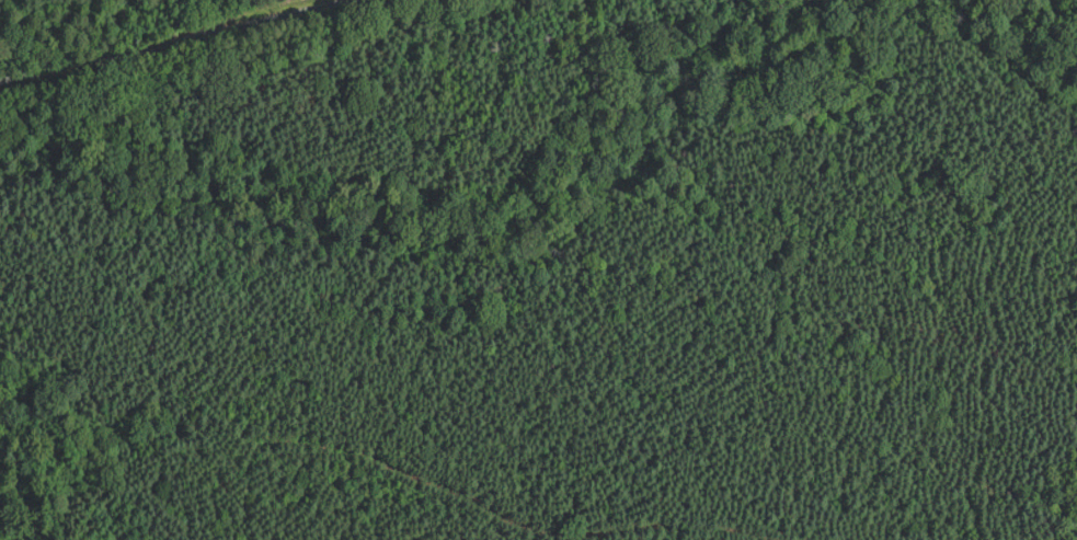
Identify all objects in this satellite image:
road: (172, 43)

